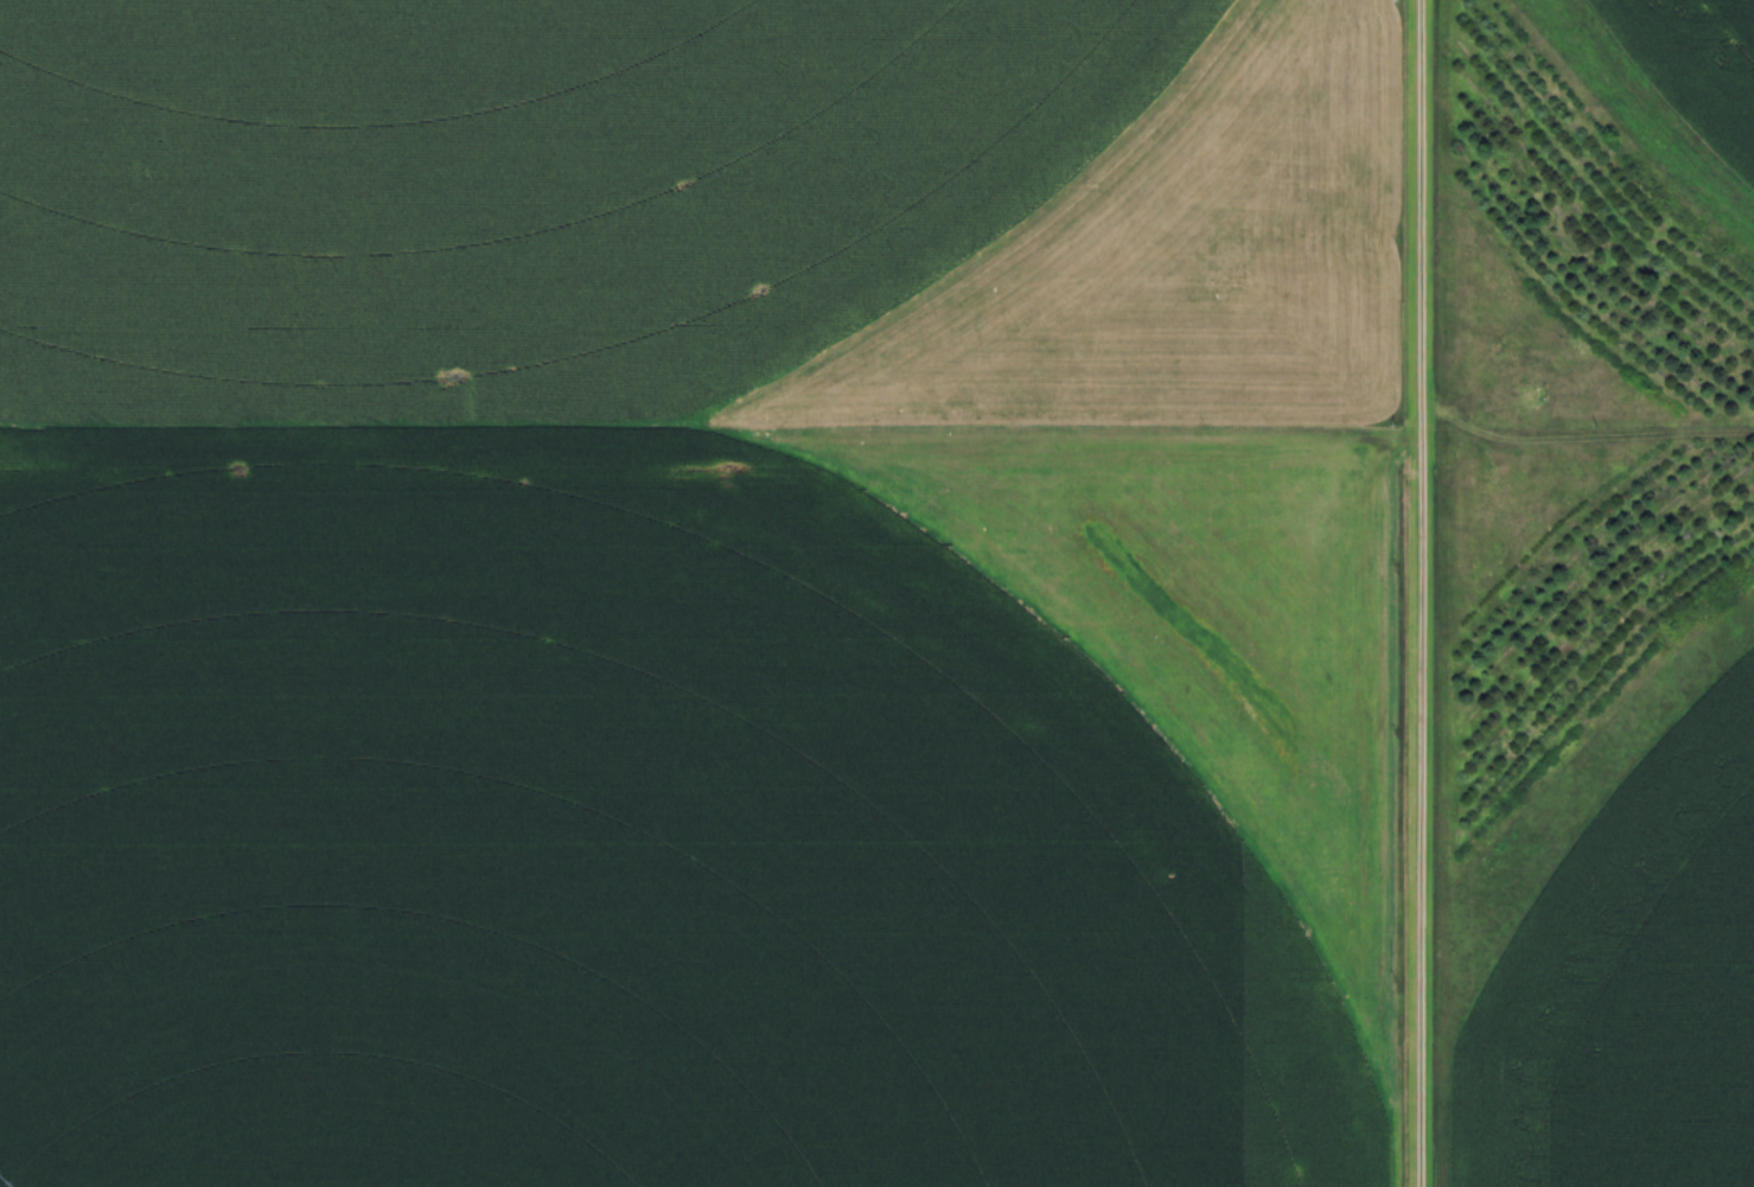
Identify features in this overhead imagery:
road: (1418, 593)

